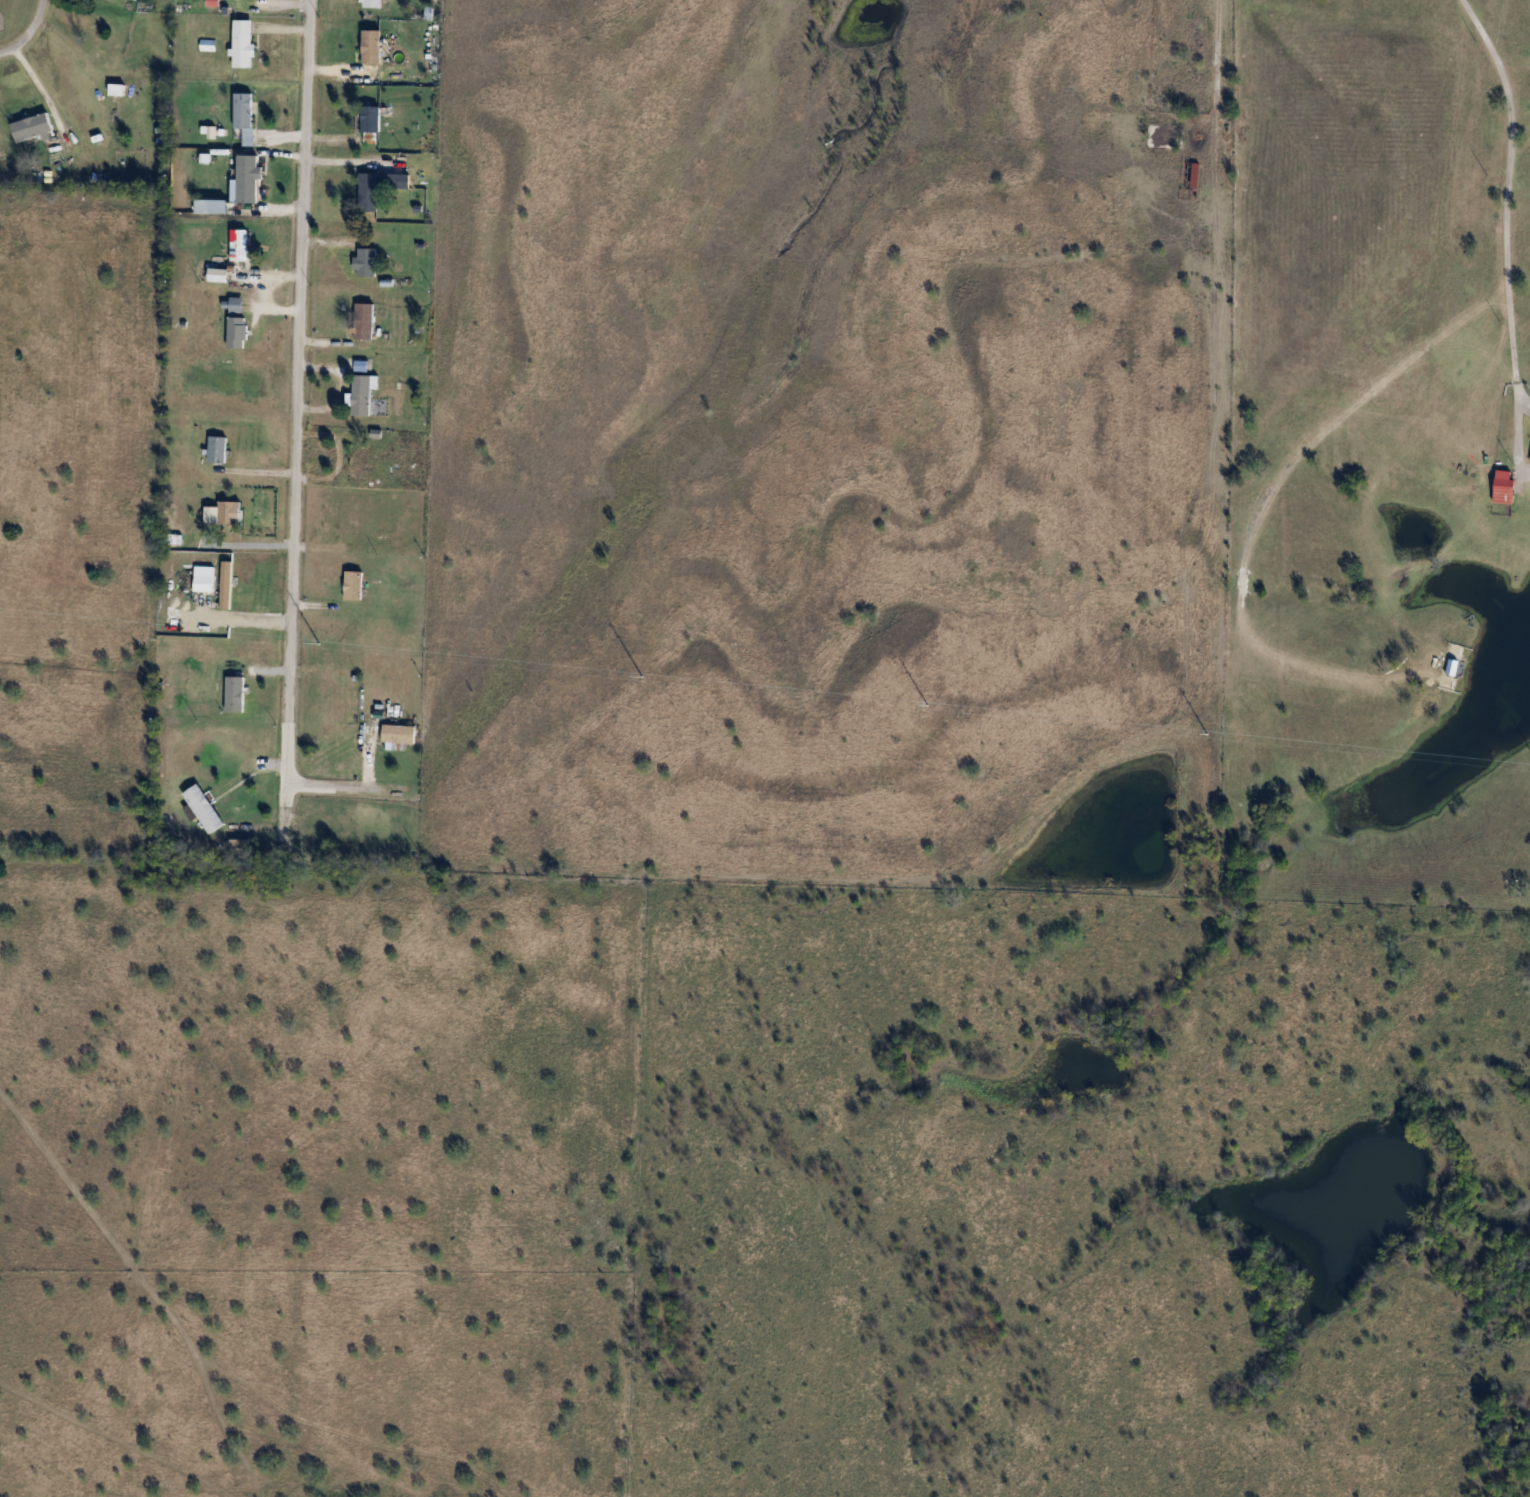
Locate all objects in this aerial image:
building: (372, 3)
road: (28, 33)
building: (243, 43)
building: (372, 46)
building: (123, 85)
building: (244, 116)
building: (371, 124)
building: (32, 127)
building: (1164, 135)
building: (1194, 177)
building: (248, 178)
building: (380, 188)
building: (212, 206)
road: (1503, 235)
building: (239, 245)
building: (367, 262)
building: (365, 321)
building: (238, 332)
road: (295, 391)
building: (364, 394)
building: (218, 449)
building: (359, 462)
building: (1504, 485)
building: (228, 512)
building: (204, 579)
building: (226, 585)
building: (354, 586)
power tower: (319, 644)
power tower: (638, 676)
building: (235, 694)
building: (332, 699)
power tower: (925, 706)
building: (399, 733)
power tower: (1207, 734)
building: (204, 808)

